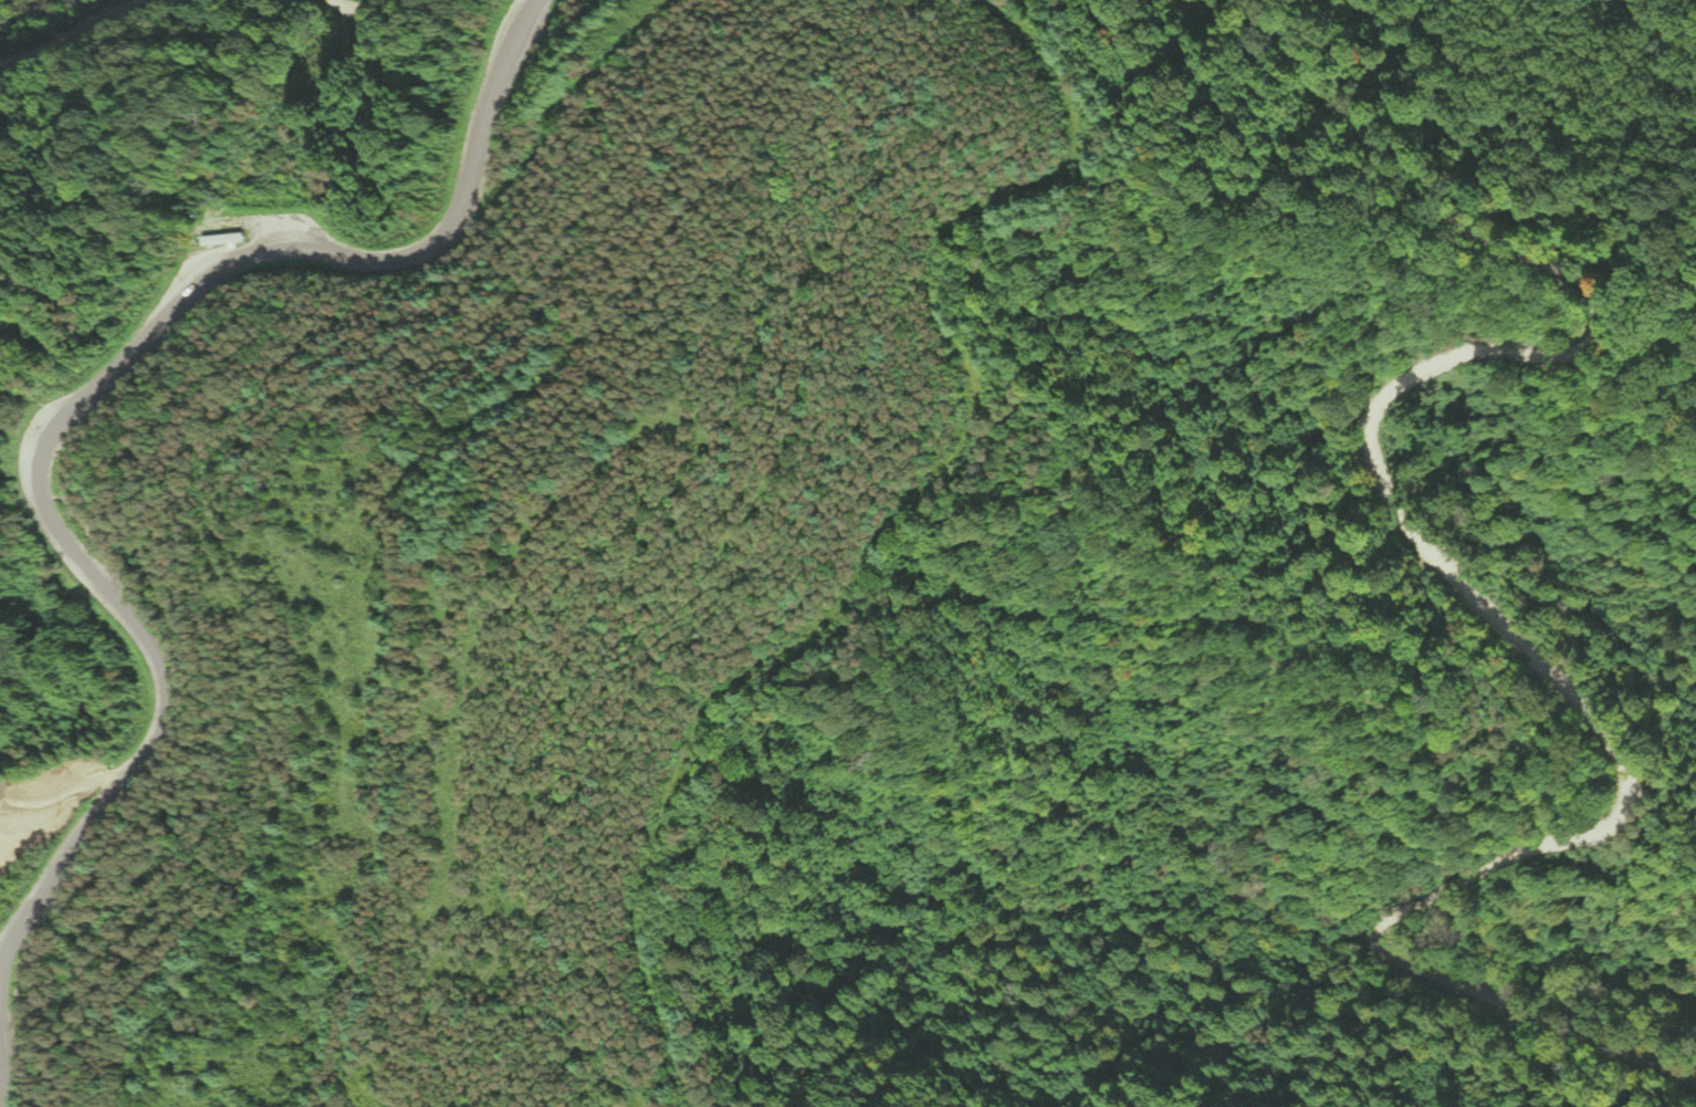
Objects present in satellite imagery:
road: (74, 29)
building: (228, 240)
road: (90, 387)
road: (1449, 574)
road: (2, 1073)

